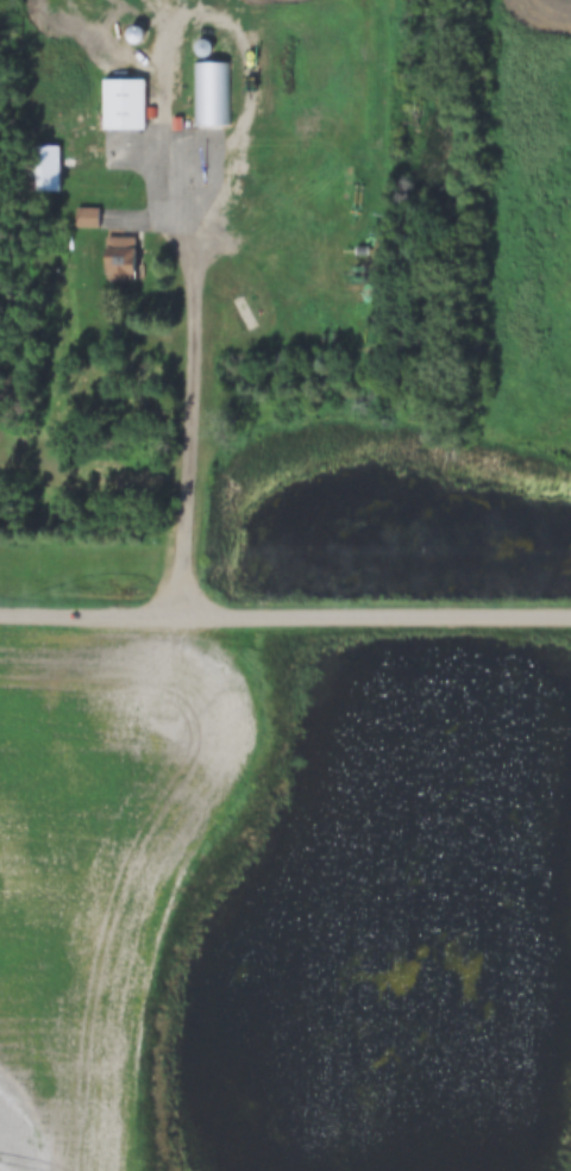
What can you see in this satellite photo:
building: (211, 95)
building: (121, 106)
building: (39, 169)
building: (84, 218)
building: (117, 257)
road: (192, 403)
road: (284, 614)

